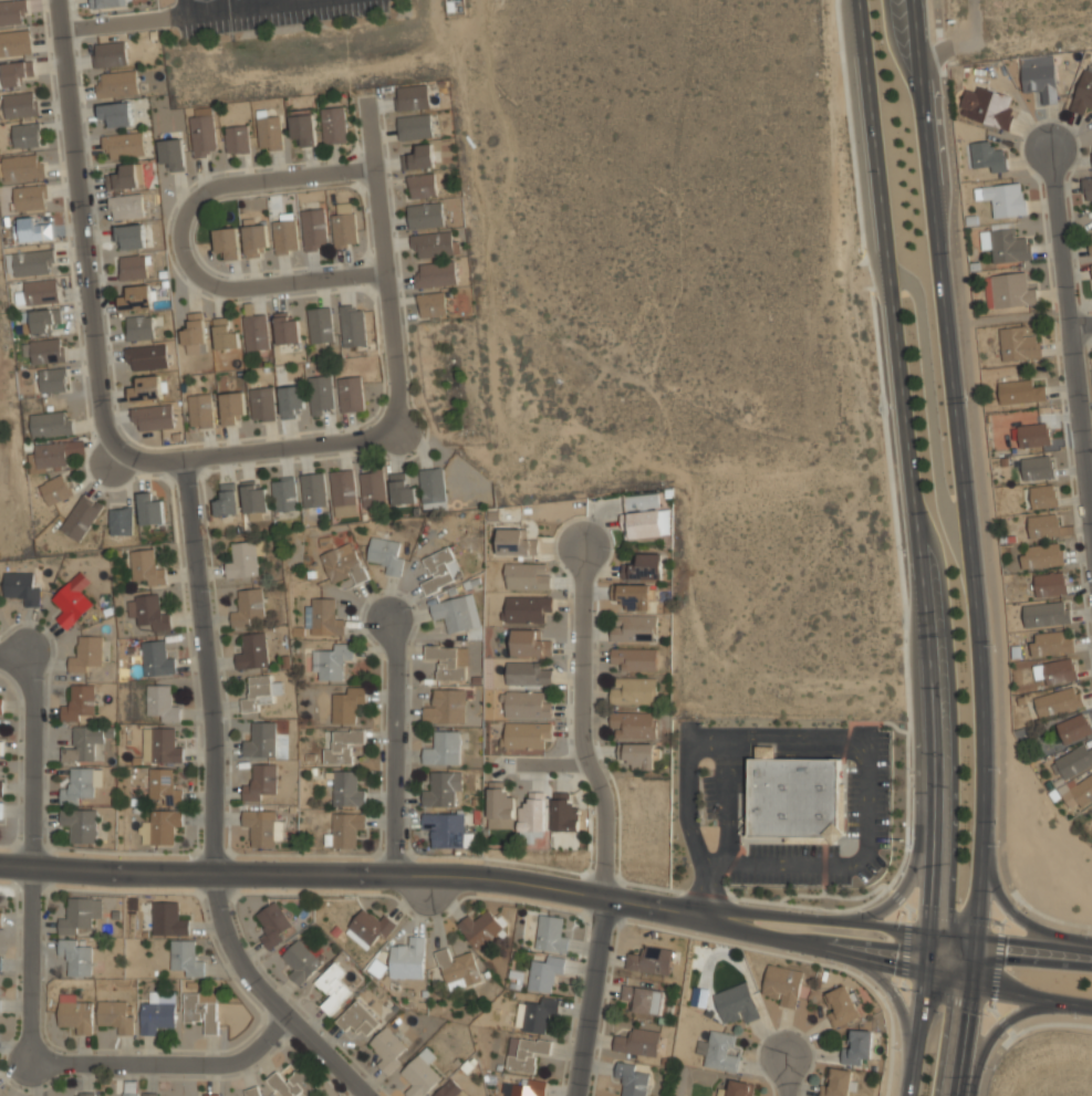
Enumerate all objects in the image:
building: (110, 3)
road: (258, 3)
road: (186, 6)
road: (913, 6)
building: (13, 11)
parking lot: (269, 12)
road: (149, 17)
building: (15, 41)
building: (110, 54)
building: (17, 72)
building: (1039, 77)
building: (116, 84)
building: (1083, 93)
building: (413, 97)
building: (21, 103)
building: (986, 106)
building: (115, 114)
building: (333, 125)
building: (302, 126)
building: (415, 126)
building: (269, 133)
building: (27, 134)
building: (202, 135)
building: (237, 139)
building: (123, 146)
building: (171, 153)
building: (418, 157)
building: (986, 157)
building: (22, 167)
building: (126, 176)
building: (422, 186)
building: (1089, 191)
building: (30, 197)
building: (1005, 198)
building: (125, 205)
building: (425, 216)
building: (343, 223)
building: (314, 228)
building: (33, 229)
building: (129, 236)
building: (253, 236)
building: (285, 236)
building: (227, 240)
building: (1006, 243)
building: (1090, 243)
building: (433, 244)
road: (184, 246)
building: (33, 261)
building: (133, 265)
road: (391, 265)
building: (1091, 267)
building: (436, 274)
building: (1009, 290)
building: (39, 291)
building: (138, 296)
building: (431, 304)
road: (1018, 316)
building: (45, 320)
road: (1082, 323)
building: (321, 325)
building: (353, 325)
building: (139, 326)
building: (285, 328)
road: (1072, 330)
building: (256, 332)
building: (195, 334)
building: (225, 335)
building: (1019, 343)
building: (46, 349)
building: (146, 356)
building: (53, 378)
building: (146, 387)
building: (1021, 390)
building: (320, 394)
building: (351, 394)
building: (291, 401)
building: (262, 404)
building: (231, 408)
building: (200, 410)
building: (153, 416)
building: (50, 422)
building: (1033, 435)
road: (294, 448)
building: (50, 455)
building: (1037, 466)
building: (55, 488)
building: (373, 489)
building: (313, 490)
building: (401, 490)
building: (433, 490)
building: (343, 493)
building: (283, 494)
building: (1043, 494)
building: (253, 497)
building: (227, 500)
building: (641, 501)
building: (149, 509)
building: (81, 516)
building: (121, 520)
building: (648, 523)
building: (1047, 525)
road: (193, 539)
building: (516, 543)
road: (916, 547)
road: (967, 547)
building: (386, 555)
building: (1041, 555)
building: (242, 560)
road: (989, 560)
building: (342, 563)
building: (145, 567)
building: (644, 567)
building: (440, 570)
building: (527, 576)
building: (21, 583)
building: (1050, 584)
building: (634, 596)
building: (71, 603)
building: (249, 608)
building: (527, 608)
building: (147, 612)
building: (457, 613)
building: (1047, 613)
building: (323, 617)
building: (634, 628)
building: (1051, 641)
building: (530, 644)
building: (252, 651)
building: (86, 654)
building: (156, 658)
building: (635, 659)
building: (331, 661)
building: (448, 661)
building: (1055, 670)
building: (527, 674)
building: (633, 691)
building: (259, 692)
building: (1058, 700)
building: (80, 702)
building: (160, 702)
building: (346, 704)
building: (1, 706)
building: (527, 706)
building: (446, 707)
road: (582, 724)
building: (633, 724)
building: (1074, 727)
building: (527, 734)
road: (707, 734)
road: (799, 734)
building: (261, 740)
building: (84, 743)
building: (163, 743)
building: (342, 747)
building: (1, 748)
road: (394, 748)
building: (443, 749)
road: (794, 752)
building: (639, 755)
building: (1072, 761)
road: (552, 764)
building: (261, 782)
building: (1, 784)
building: (81, 784)
building: (163, 786)
building: (346, 789)
building: (441, 789)
building: (1079, 793)
parking lot: (714, 796)
building: (799, 800)
parking lot: (865, 801)
road: (727, 802)
road: (687, 803)
building: (499, 806)
building: (1, 811)
building: (564, 813)
building: (531, 817)
building: (80, 823)
building: (159, 826)
building: (261, 827)
building: (344, 829)
building: (447, 829)
road: (30, 841)
road: (842, 865)
road: (911, 871)
road: (301, 874)
road: (708, 889)
road: (653, 907)
building: (81, 915)
building: (168, 918)
road: (818, 918)
building: (1, 919)
road: (1021, 921)
building: (273, 923)
building: (479, 927)
building: (368, 928)
traffic signals: (929, 930)
building: (551, 933)
traffic signals: (978, 937)
road: (1010, 941)
road: (815, 948)
building: (79, 956)
building: (407, 957)
building: (184, 958)
building: (0, 959)
building: (651, 959)
building: (301, 961)
building: (458, 968)
building: (544, 972)
traffic signals: (927, 974)
building: (514, 978)
road: (948, 979)
building: (782, 984)
traffic signals: (970, 984)
building: (332, 987)
road: (591, 996)
building: (698, 996)
building: (643, 998)
road: (1030, 998)
building: (0, 1000)
road: (894, 1001)
building: (736, 1003)
building: (842, 1004)
building: (201, 1009)
building: (157, 1012)
building: (75, 1013)
building: (535, 1013)
building: (115, 1014)
building: (357, 1017)
road: (994, 1033)
building: (637, 1042)
building: (859, 1047)
building: (387, 1048)
building: (524, 1052)
building: (720, 1053)
road: (164, 1061)
building: (420, 1073)
road: (786, 1076)
building: (632, 1077)
building: (293, 1083)
building: (838, 1083)
building: (132, 1087)
building: (524, 1087)
building: (740, 1088)
building: (450, 1089)
building: (252, 1092)
building: (85, 1094)
building: (153, 1094)
building: (211, 1094)

